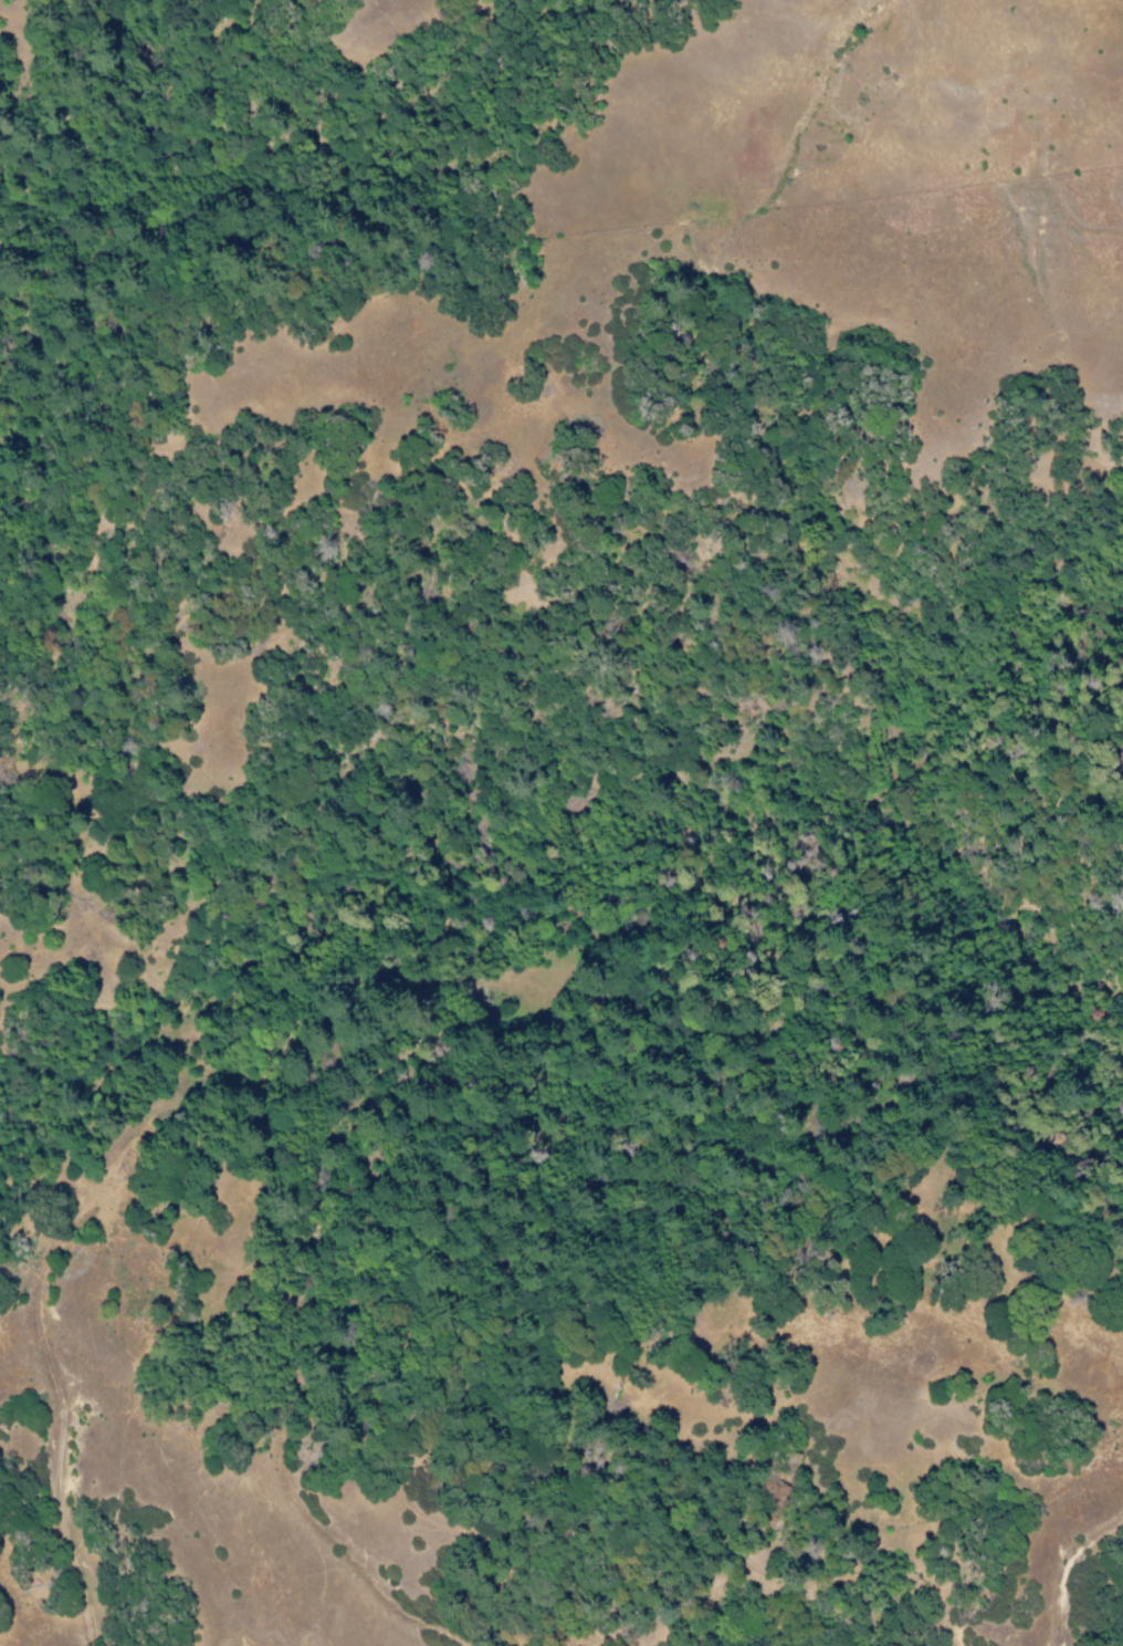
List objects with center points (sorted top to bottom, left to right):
road: (252, 1101)
road: (1071, 1576)
road: (794, 1580)

